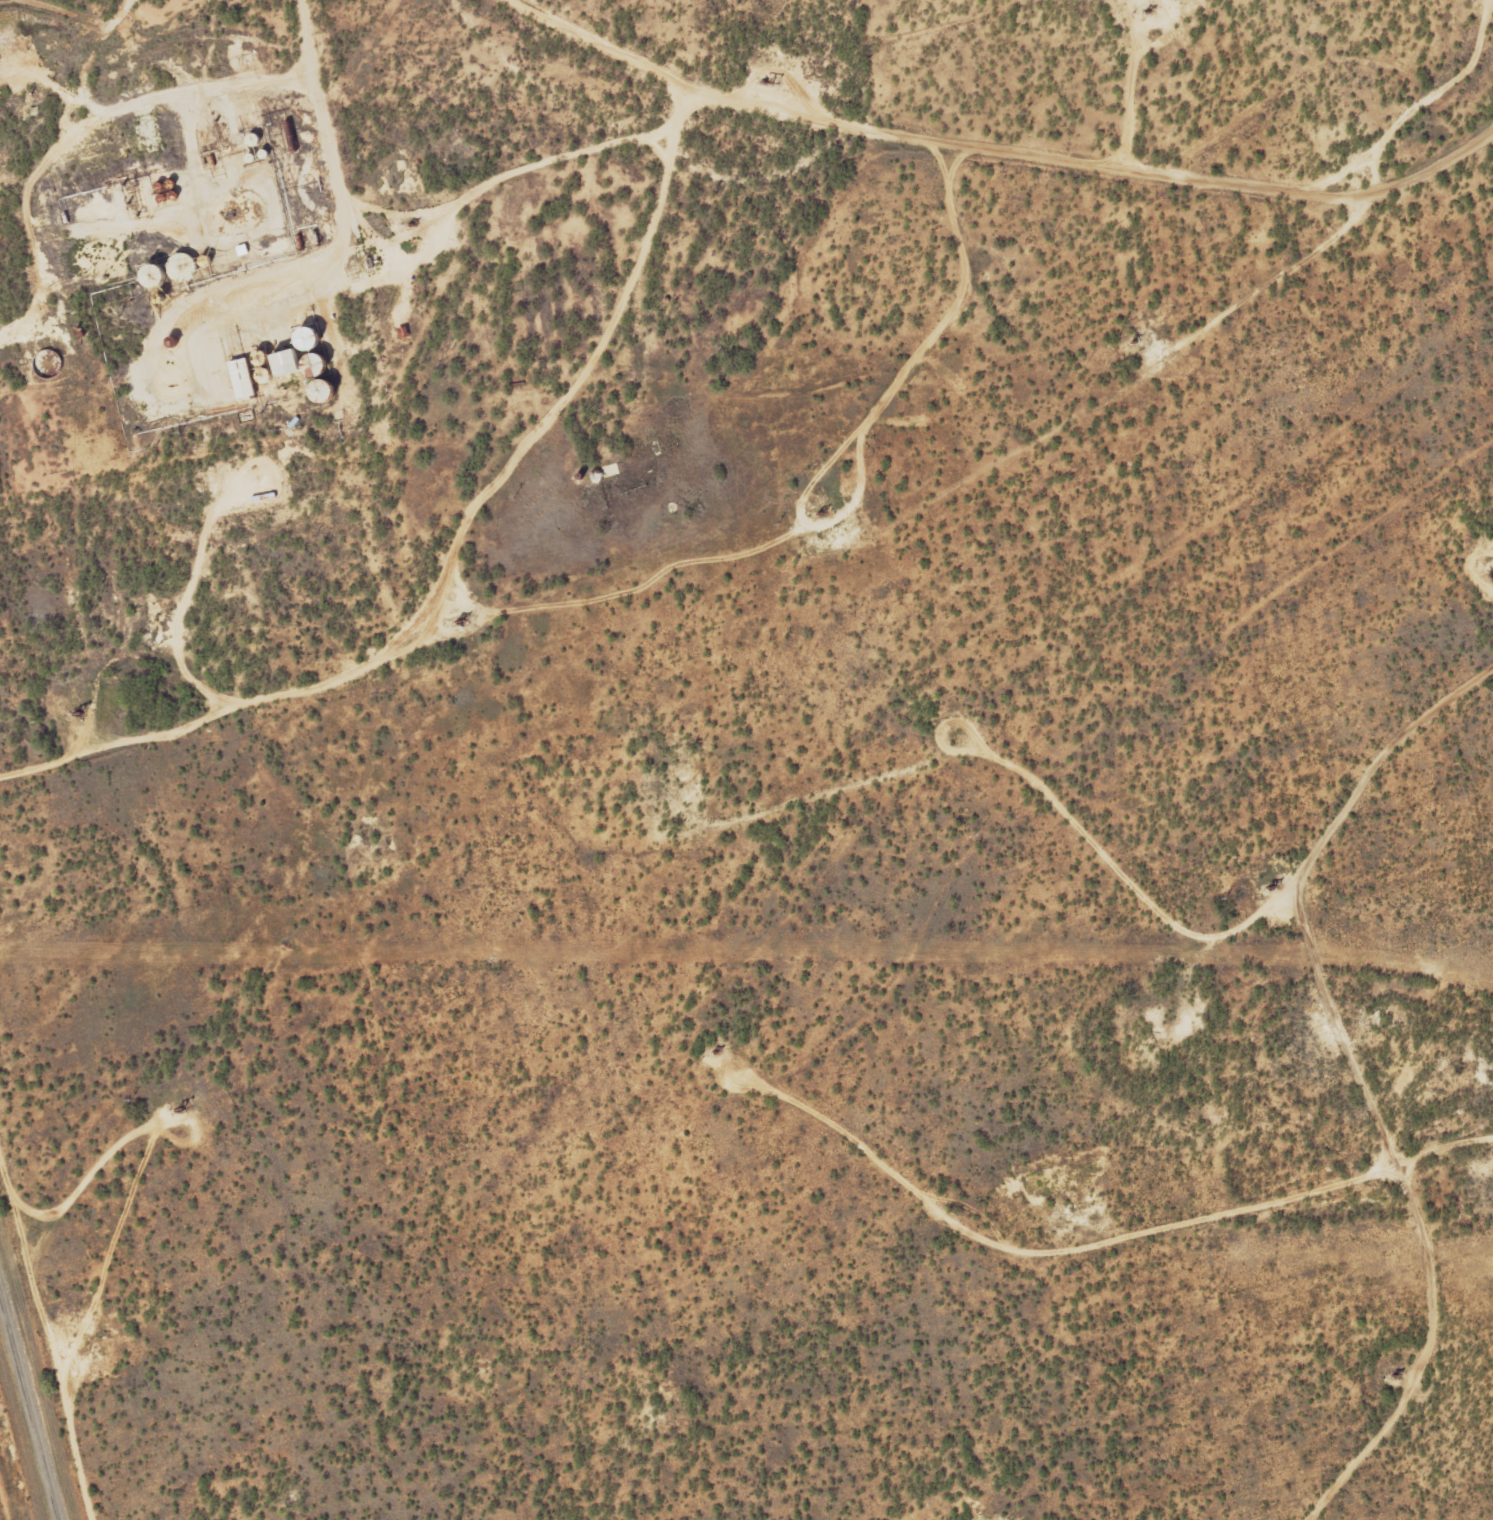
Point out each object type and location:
road: (315, 79)
building: (309, 339)
building: (292, 362)
building: (243, 378)
building: (324, 392)
road: (35, 1385)

